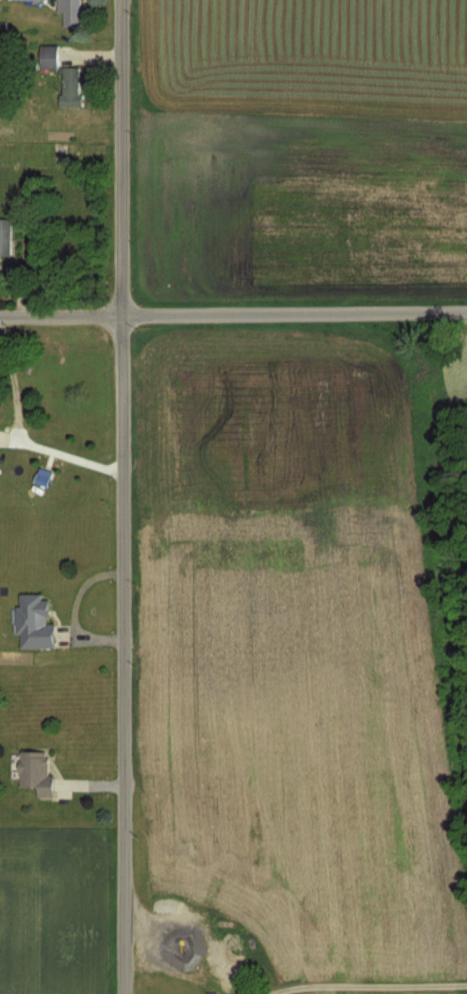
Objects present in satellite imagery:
building: (71, 13)
building: (49, 56)
building: (71, 87)
building: (6, 236)
road: (233, 313)
road: (12, 384)
road: (61, 452)
road: (124, 497)
building: (35, 621)
building: (37, 772)

